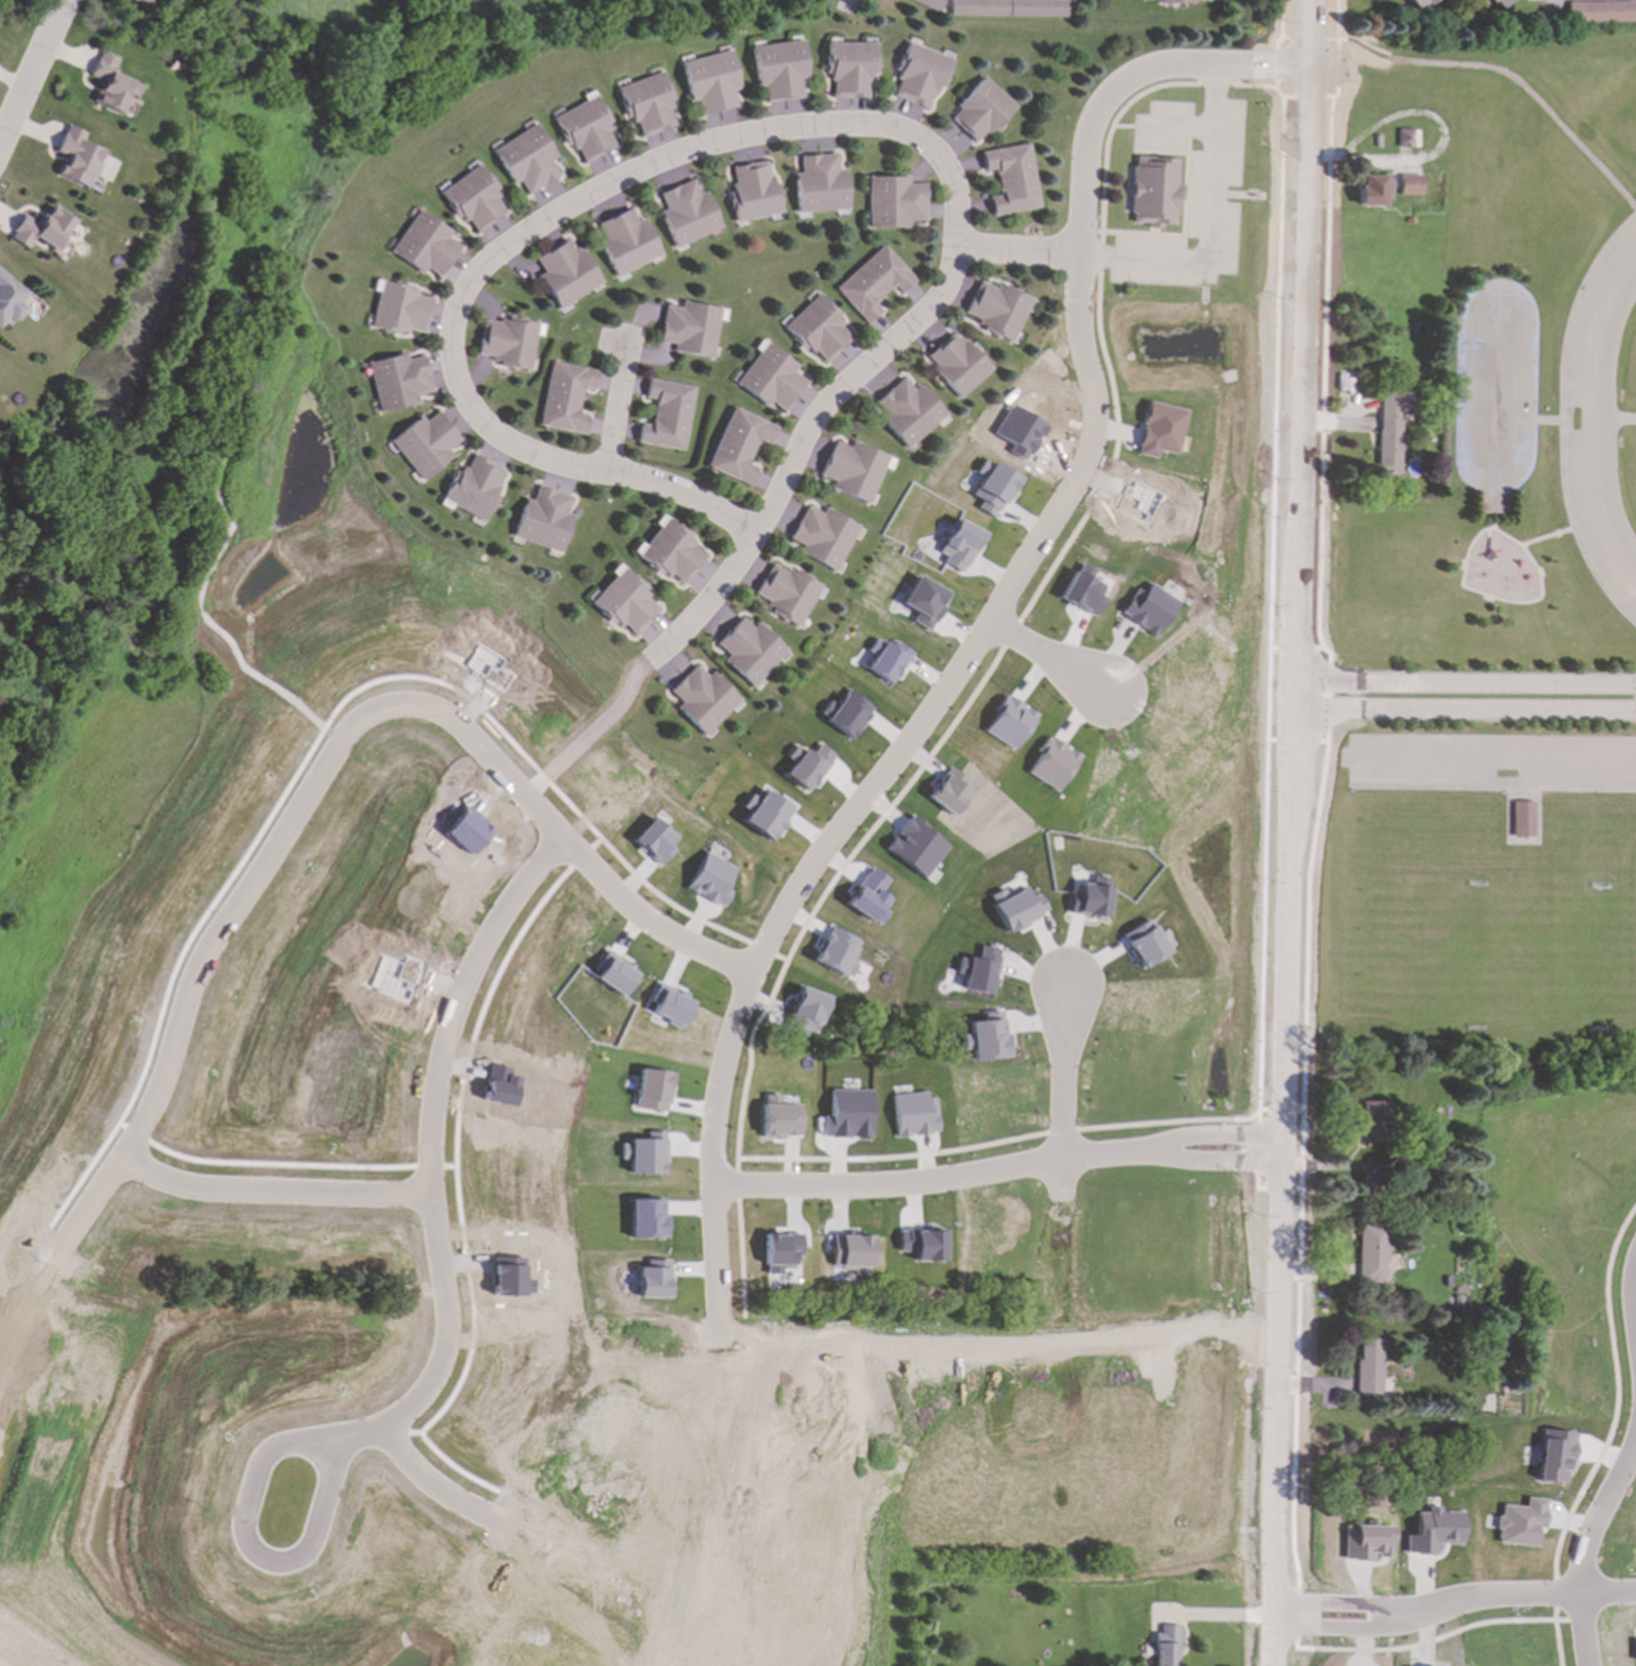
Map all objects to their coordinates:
building: (11, 0)
building: (1202, 0)
building: (141, 1)
building: (1175, 1)
building: (1500, 2)
building: (1418, 3)
building: (929, 4)
building: (979, 8)
building: (1038, 9)
building: (1602, 12)
road: (1343, 22)
building: (849, 68)
building: (779, 70)
building: (919, 74)
road: (1507, 74)
road: (33, 75)
building: (709, 82)
building: (109, 84)
road: (1110, 98)
building: (646, 104)
building: (980, 110)
building: (584, 129)
building: (1406, 138)
building: (77, 158)
building: (526, 159)
building: (1010, 179)
building: (821, 184)
building: (1407, 184)
building: (1371, 190)
road: (602, 191)
building: (1153, 191)
building: (754, 192)
building: (472, 199)
building: (895, 202)
building: (687, 213)
road: (1207, 226)
building: (41, 230)
building: (626, 242)
building: (423, 245)
road: (1018, 254)
building: (566, 274)
building: (873, 283)
park: (149, 296)
building: (10, 299)
building: (399, 309)
building: (996, 309)
building: (690, 328)
building: (819, 330)
building: (507, 341)
park: (212, 349)
building: (957, 365)
building: (770, 379)
building: (397, 381)
building: (564, 398)
road: (619, 412)
building: (906, 412)
building: (667, 414)
road: (1594, 418)
road: (1615, 420)
building: (1390, 429)
building: (1158, 430)
building: (424, 444)
building: (738, 445)
road: (800, 453)
building: (855, 470)
building: (474, 487)
road: (685, 497)
building: (543, 519)
building: (824, 537)
building: (669, 551)
park: (1475, 557)
building: (788, 593)
building: (923, 602)
building: (625, 603)
road: (1016, 624)
building: (748, 651)
road: (1051, 658)
building: (887, 661)
road: (1467, 684)
building: (701, 699)
road: (1466, 710)
building: (847, 715)
building: (1010, 723)
road: (593, 730)
building: (1053, 765)
building: (806, 767)
building: (950, 793)
building: (764, 814)
building: (1521, 820)
road: (566, 829)
road: (1294, 833)
building: (916, 846)
building: (711, 881)
building: (869, 898)
building: (1089, 898)
building: (1016, 908)
road: (688, 915)
park: (1463, 916)
building: (1143, 943)
road: (761, 952)
building: (837, 953)
building: (979, 971)
building: (613, 974)
road: (181, 1008)
building: (806, 1012)
building: (986, 1038)
road: (1059, 1079)
building: (652, 1090)
building: (848, 1115)
building: (915, 1115)
building: (780, 1118)
road: (433, 1119)
building: (1373, 1122)
road: (1013, 1141)
building: (644, 1153)
road: (1000, 1170)
road: (275, 1183)
building: (646, 1219)
building: (922, 1244)
building: (1372, 1254)
road: (1062, 1290)
road: (1629, 1324)
building: (1369, 1368)
road: (365, 1437)
road: (1606, 1440)
building: (1553, 1456)
road: (505, 1518)
building: (1433, 1531)
road: (1586, 1538)
road: (274, 1562)
road: (659, 1599)
road: (1503, 1600)
road: (1337, 1613)
road: (1216, 1615)
road: (1289, 1618)
road: (1337, 1633)
road: (767, 1637)
road: (1436, 1639)
building: (1165, 1646)

